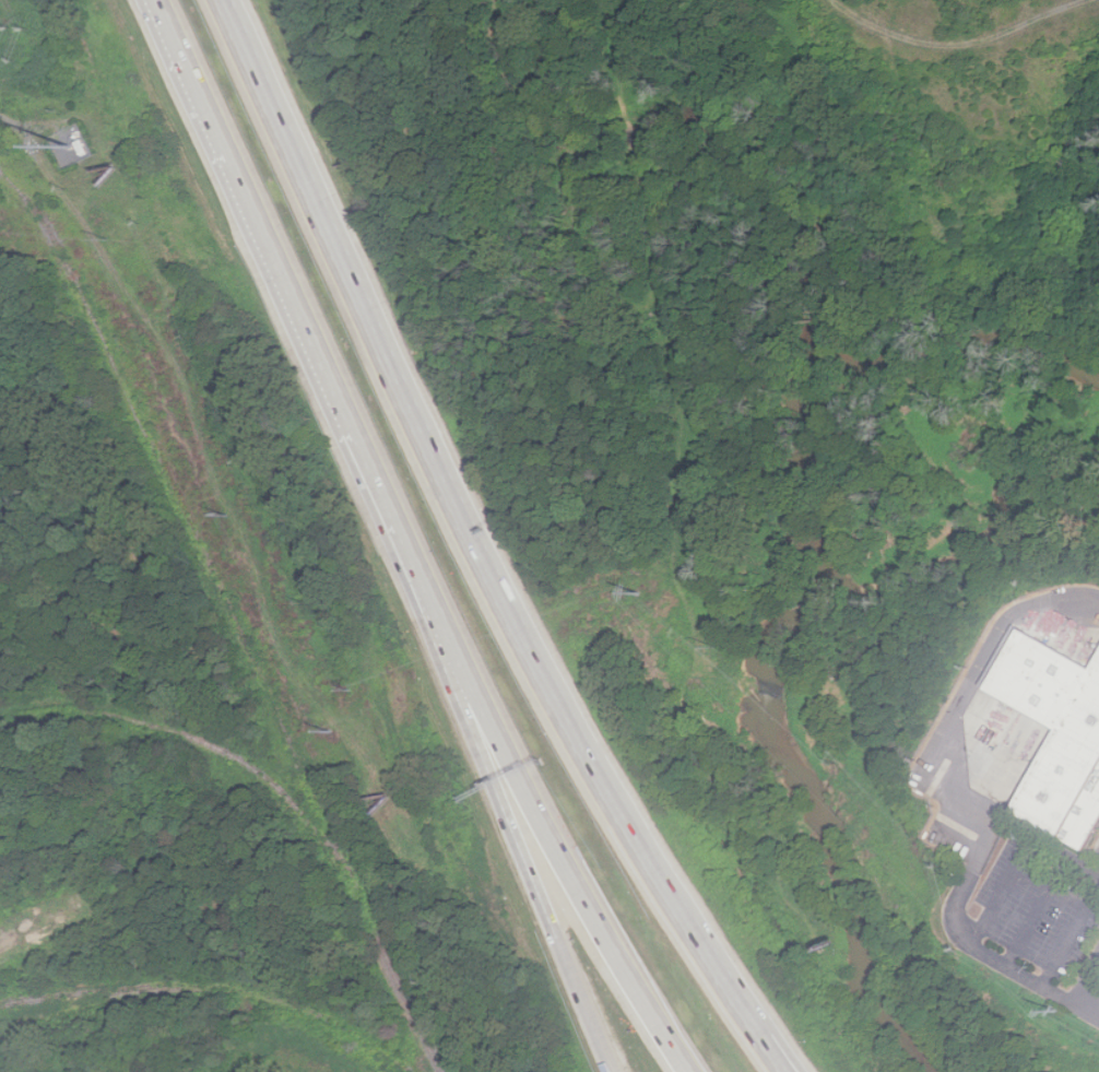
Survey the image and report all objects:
road: (955, 44)
road: (14, 126)
railway: (54, 227)
road: (293, 306)
river: (962, 339)
road: (453, 499)
railway: (194, 533)
river: (773, 710)
building: (1053, 731)
railway: (291, 800)
road: (957, 800)
road: (518, 844)
road: (554, 845)
road: (1000, 896)
road: (1036, 916)
road: (1070, 935)
road: (1087, 982)
railway: (211, 988)
railway: (78, 996)
railway: (12, 1004)
road: (1087, 1010)
road: (763, 1025)
road: (753, 1026)

